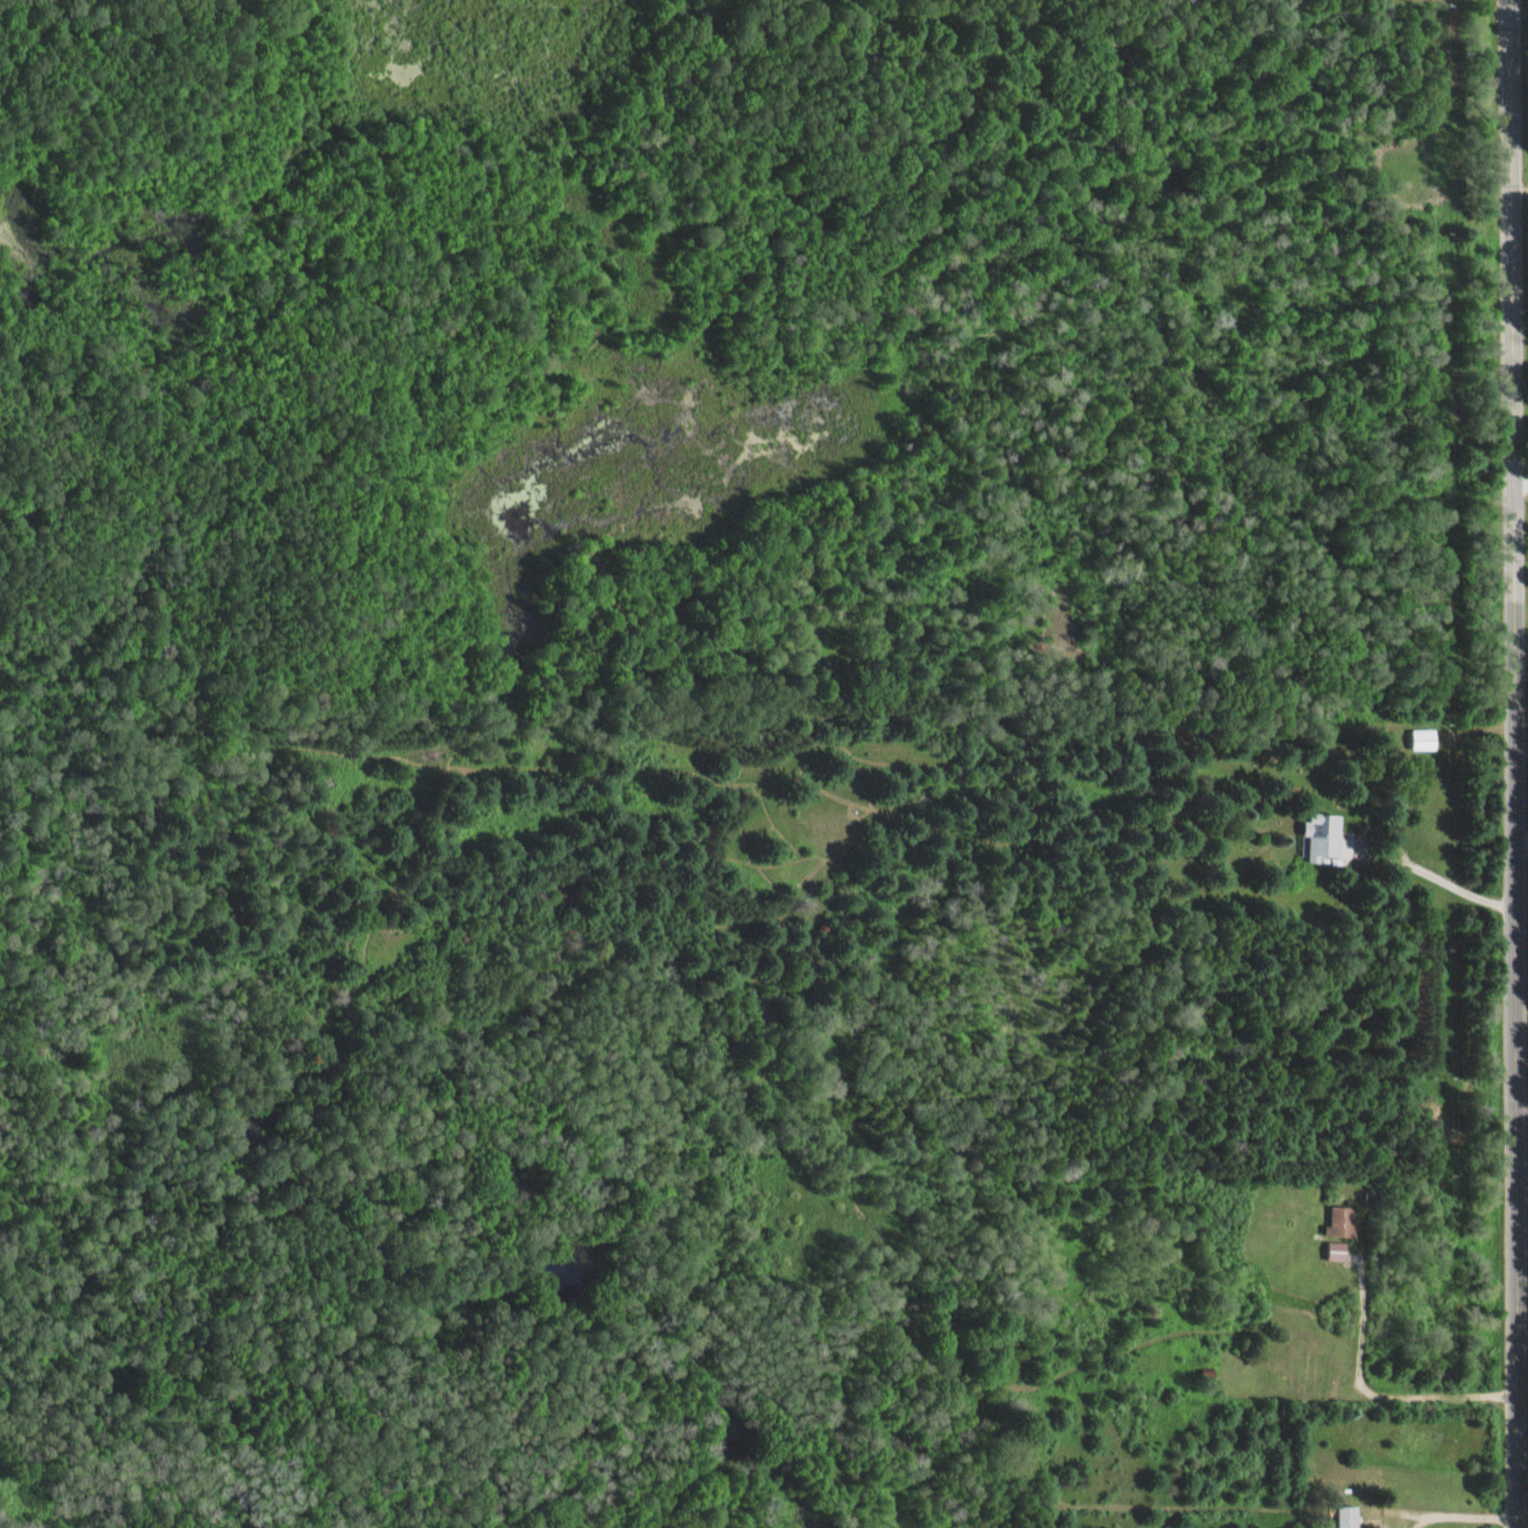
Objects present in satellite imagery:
building: (1421, 738)
road: (1511, 764)
building: (1329, 842)
building: (1338, 1221)
building: (1332, 1254)
building: (1343, 1516)

